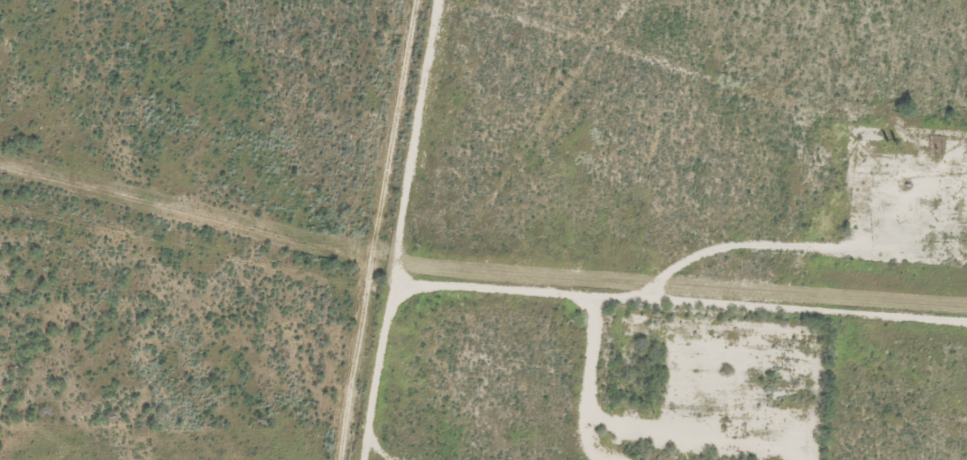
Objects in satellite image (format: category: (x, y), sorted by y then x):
road: (401, 231)

